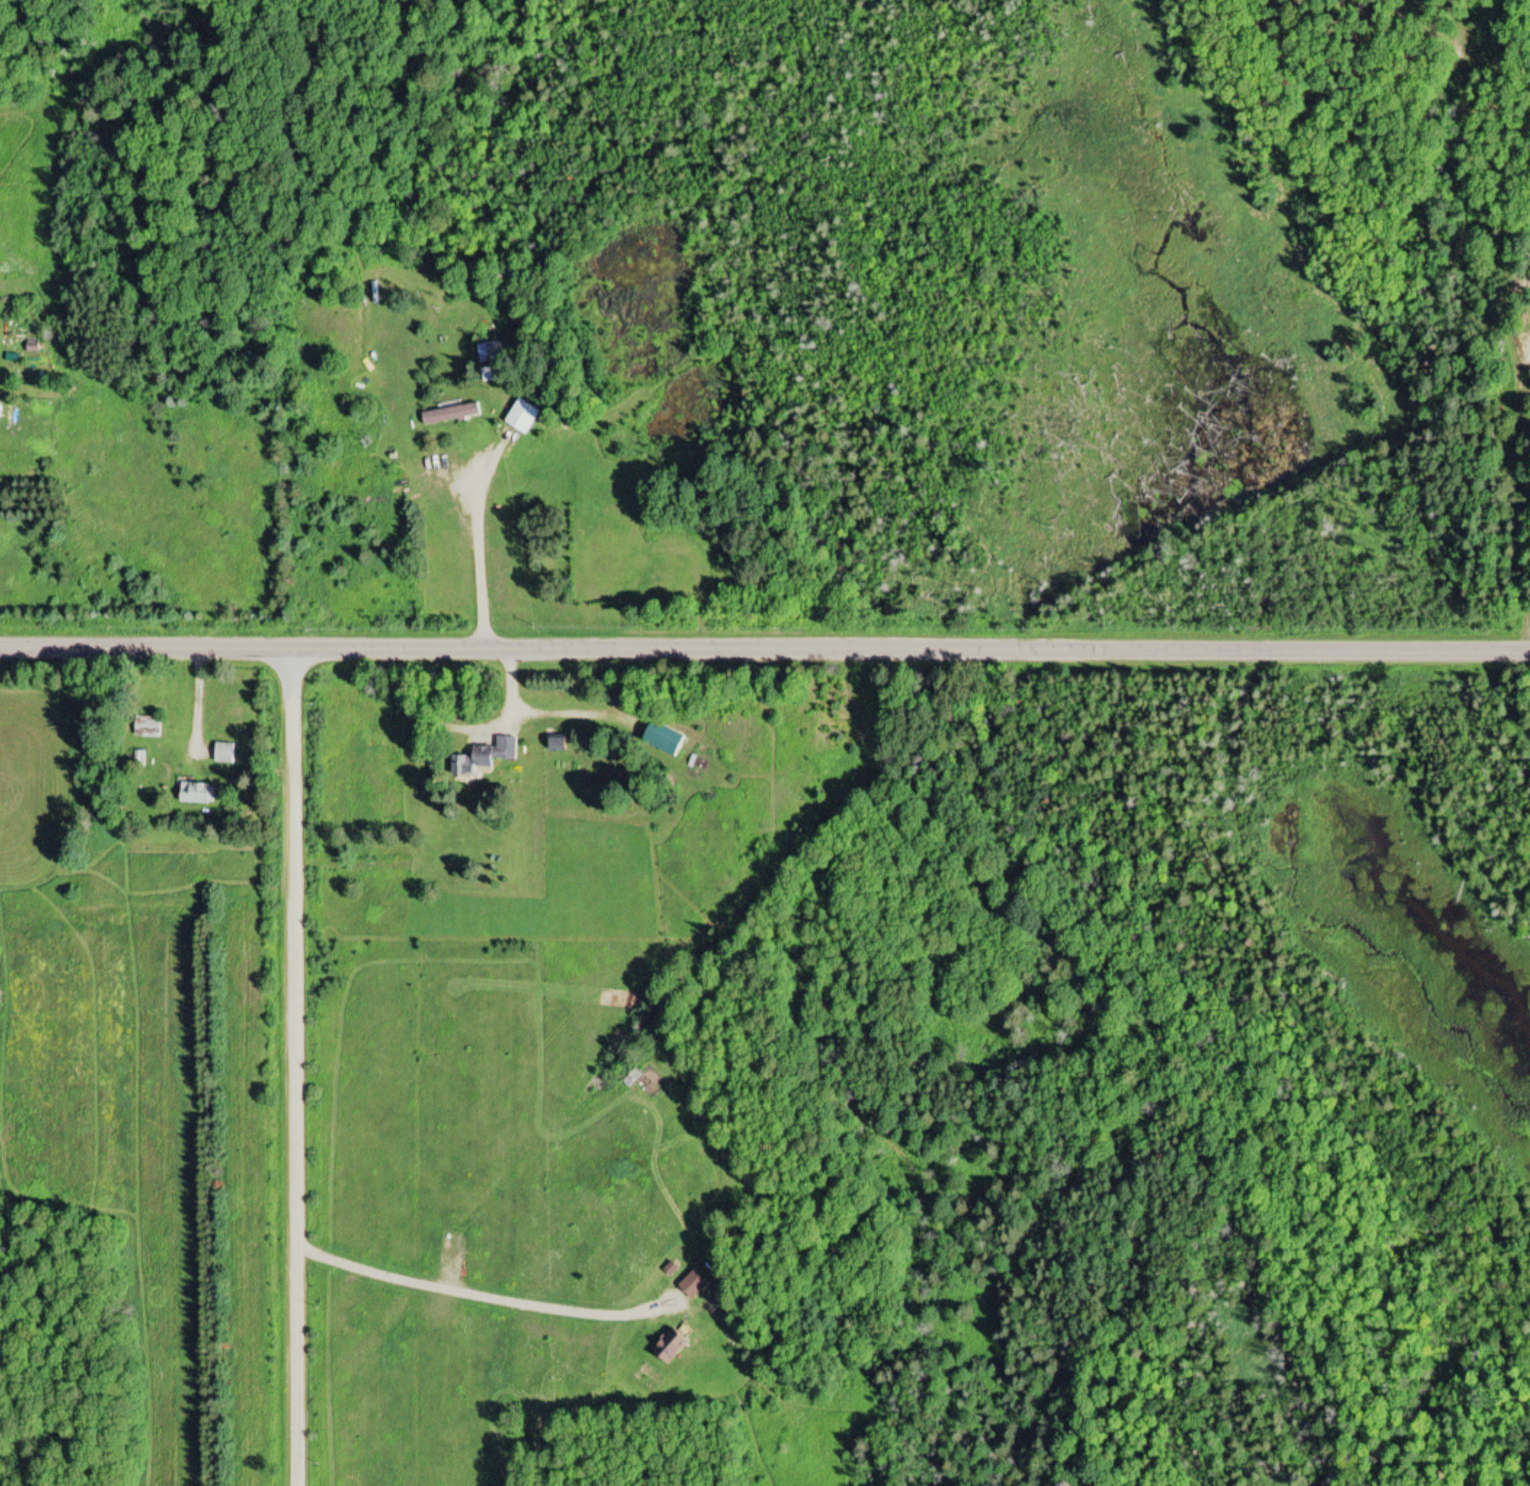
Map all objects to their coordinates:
building: (489, 354)
building: (452, 415)
building: (513, 420)
road: (765, 650)
building: (145, 727)
building: (665, 741)
building: (553, 744)
building: (223, 754)
building: (486, 754)
building: (194, 793)
road: (295, 1066)
building: (691, 1286)
building: (667, 1347)

